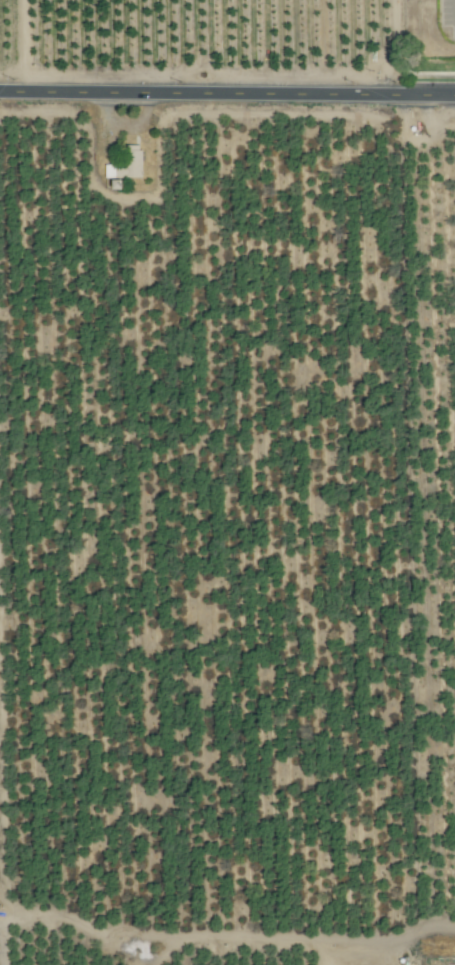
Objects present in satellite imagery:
road: (452, 11)
road: (227, 94)
building: (122, 164)

